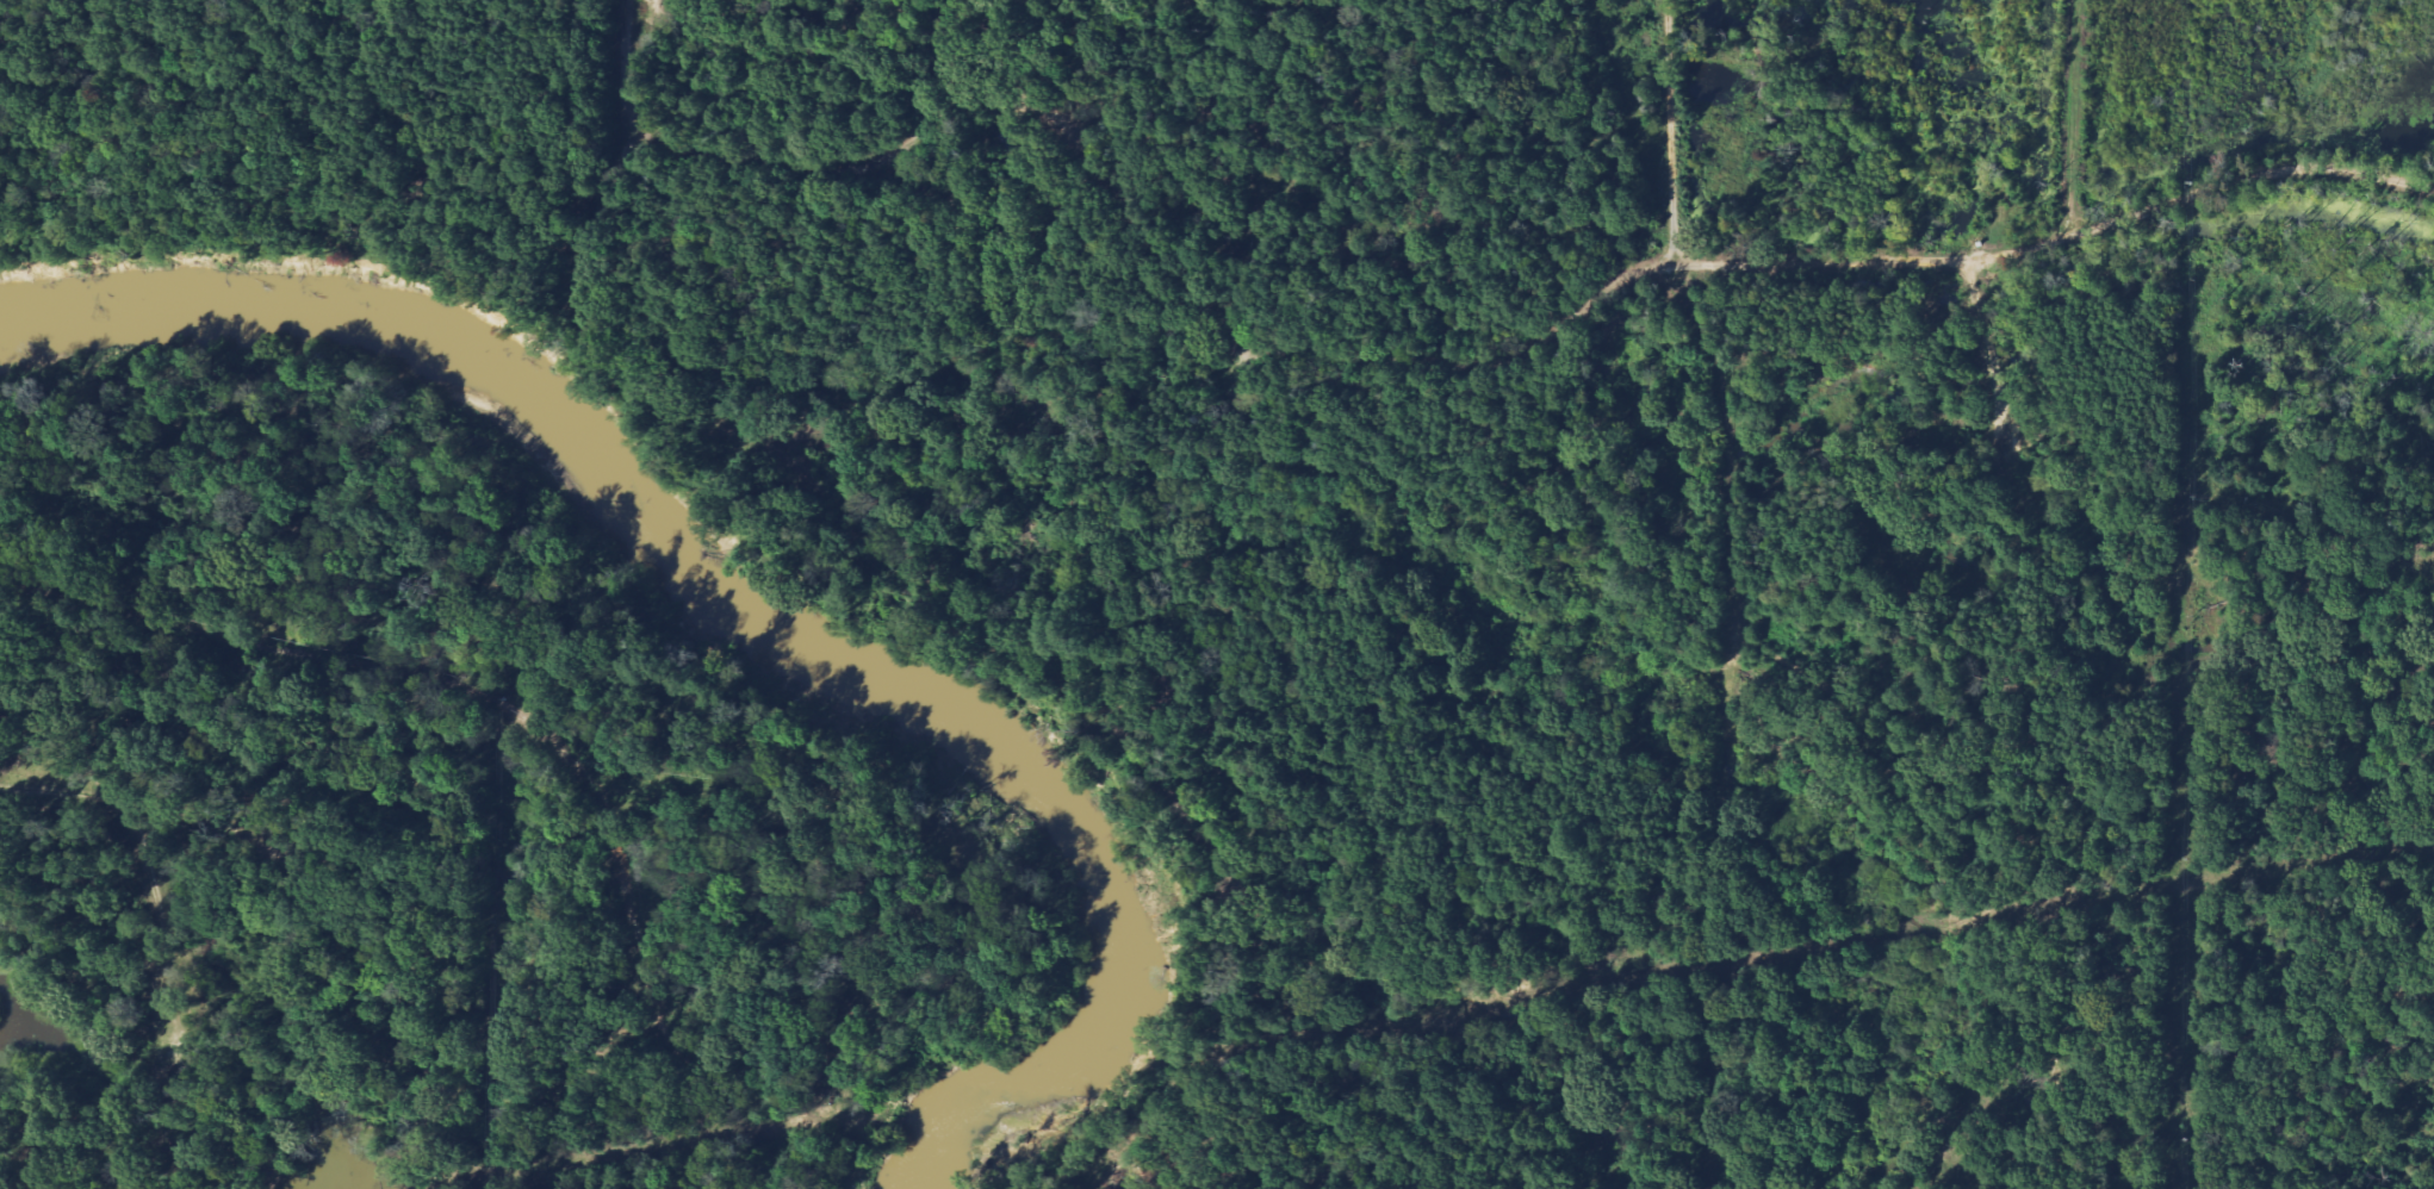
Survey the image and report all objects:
road: (2253, 175)
river: (747, 611)
road: (1899, 728)
road: (657, 1003)

